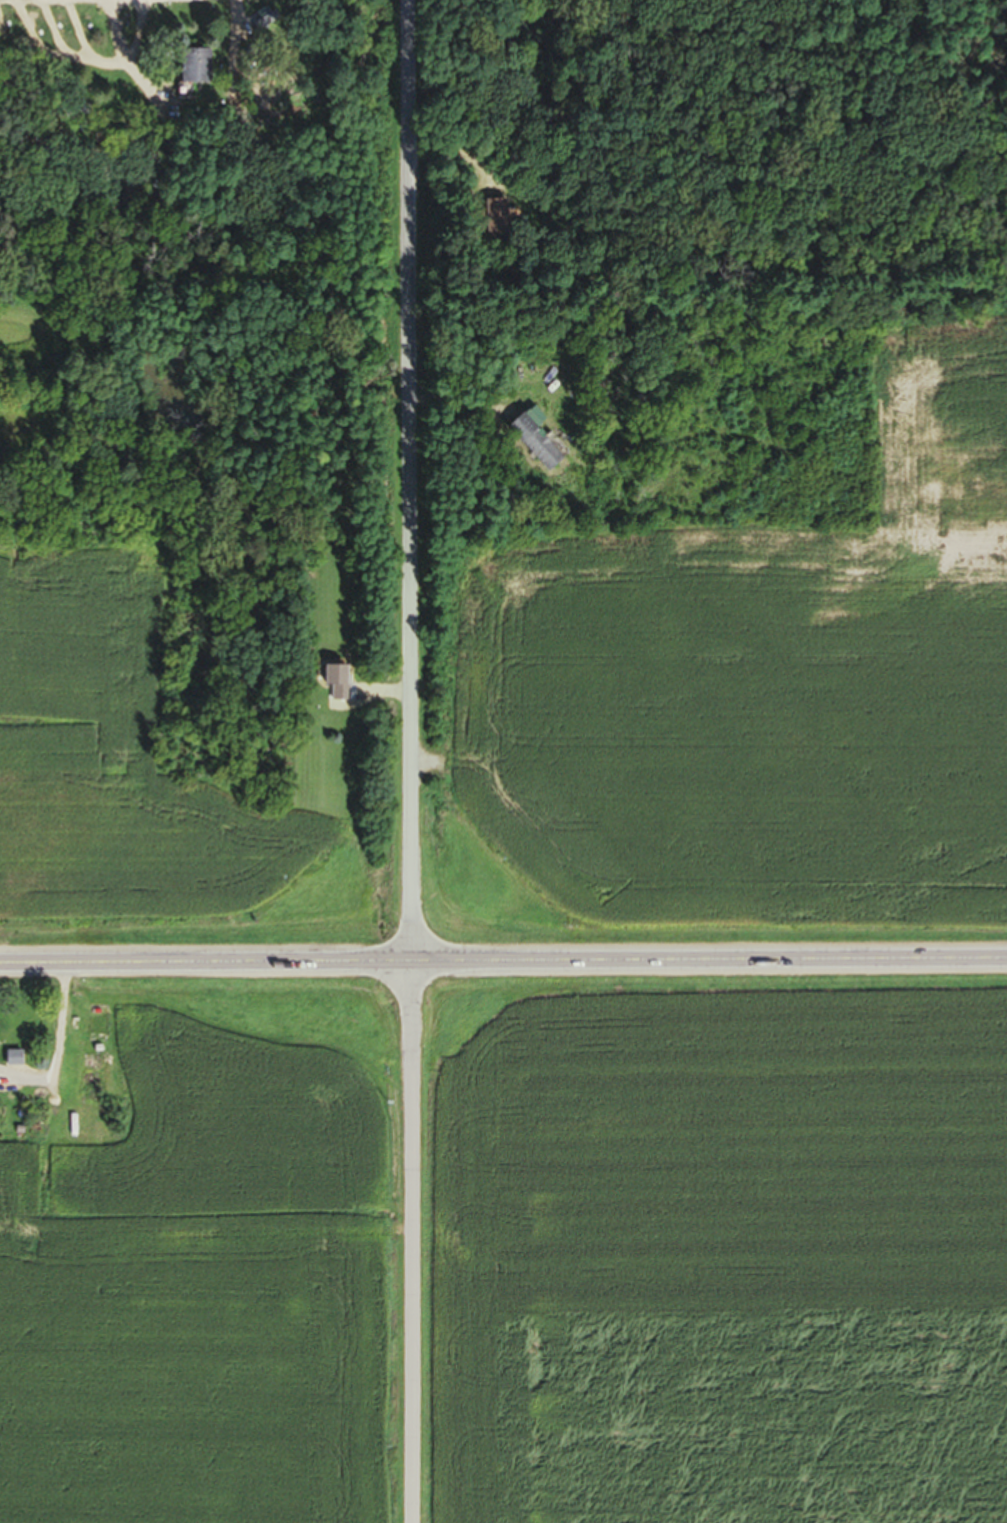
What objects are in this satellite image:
building: (191, 70)
building: (531, 447)
building: (333, 686)
road: (410, 761)
road: (503, 962)

